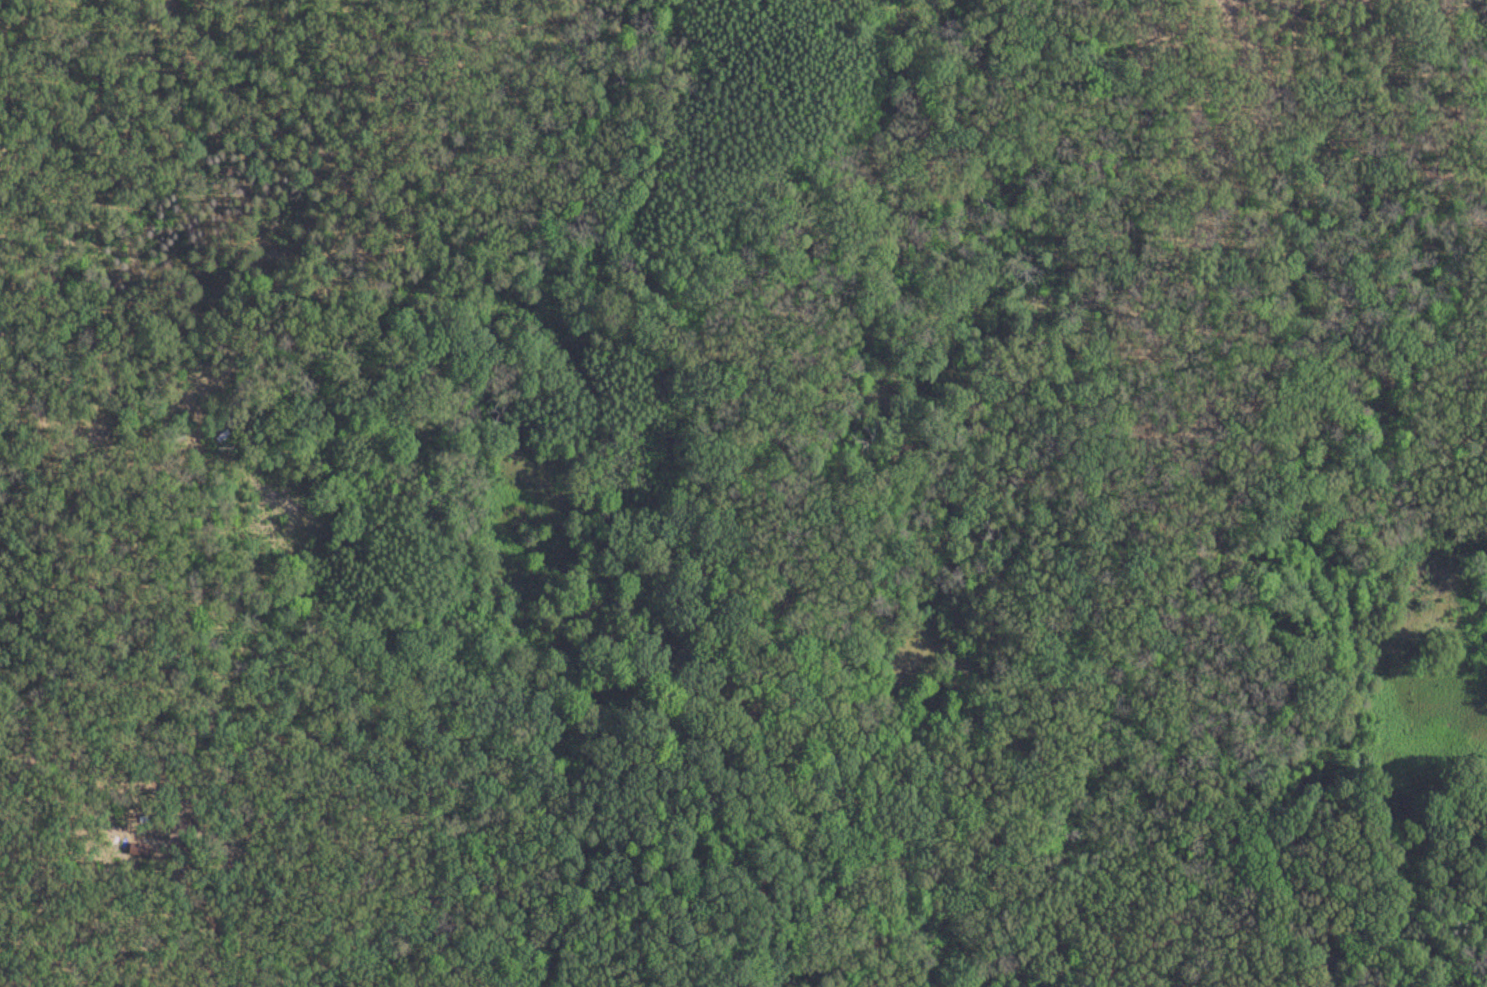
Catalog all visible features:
road: (1323, 97)
road: (919, 397)
park: (1088, 877)

